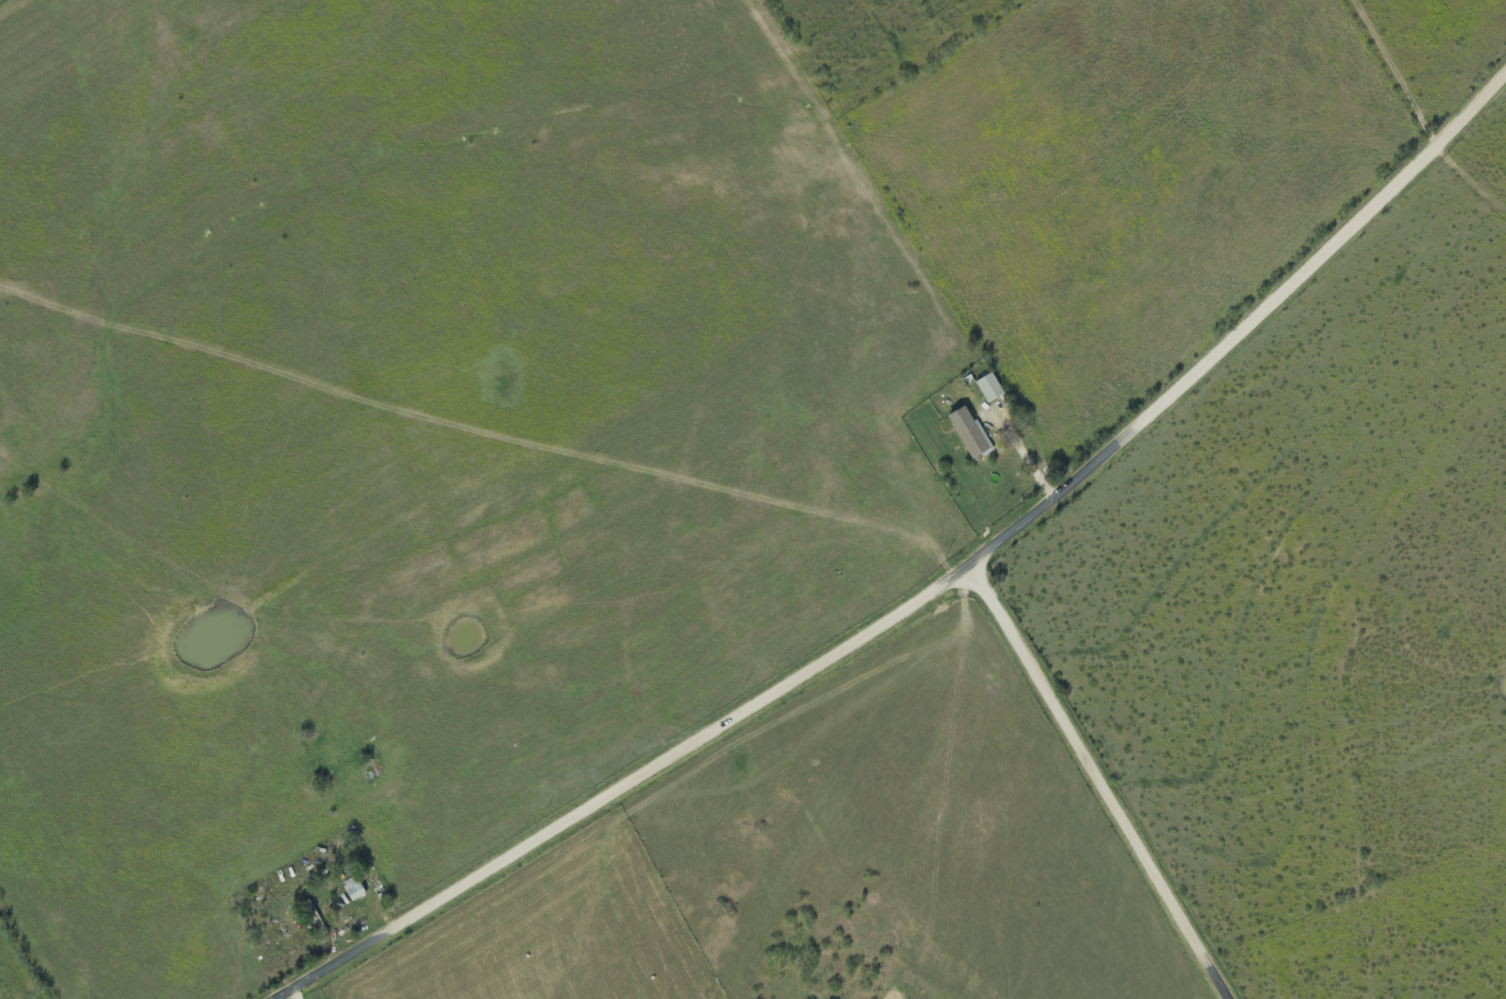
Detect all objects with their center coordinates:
building: (970, 433)
road: (938, 594)
road: (1104, 786)

